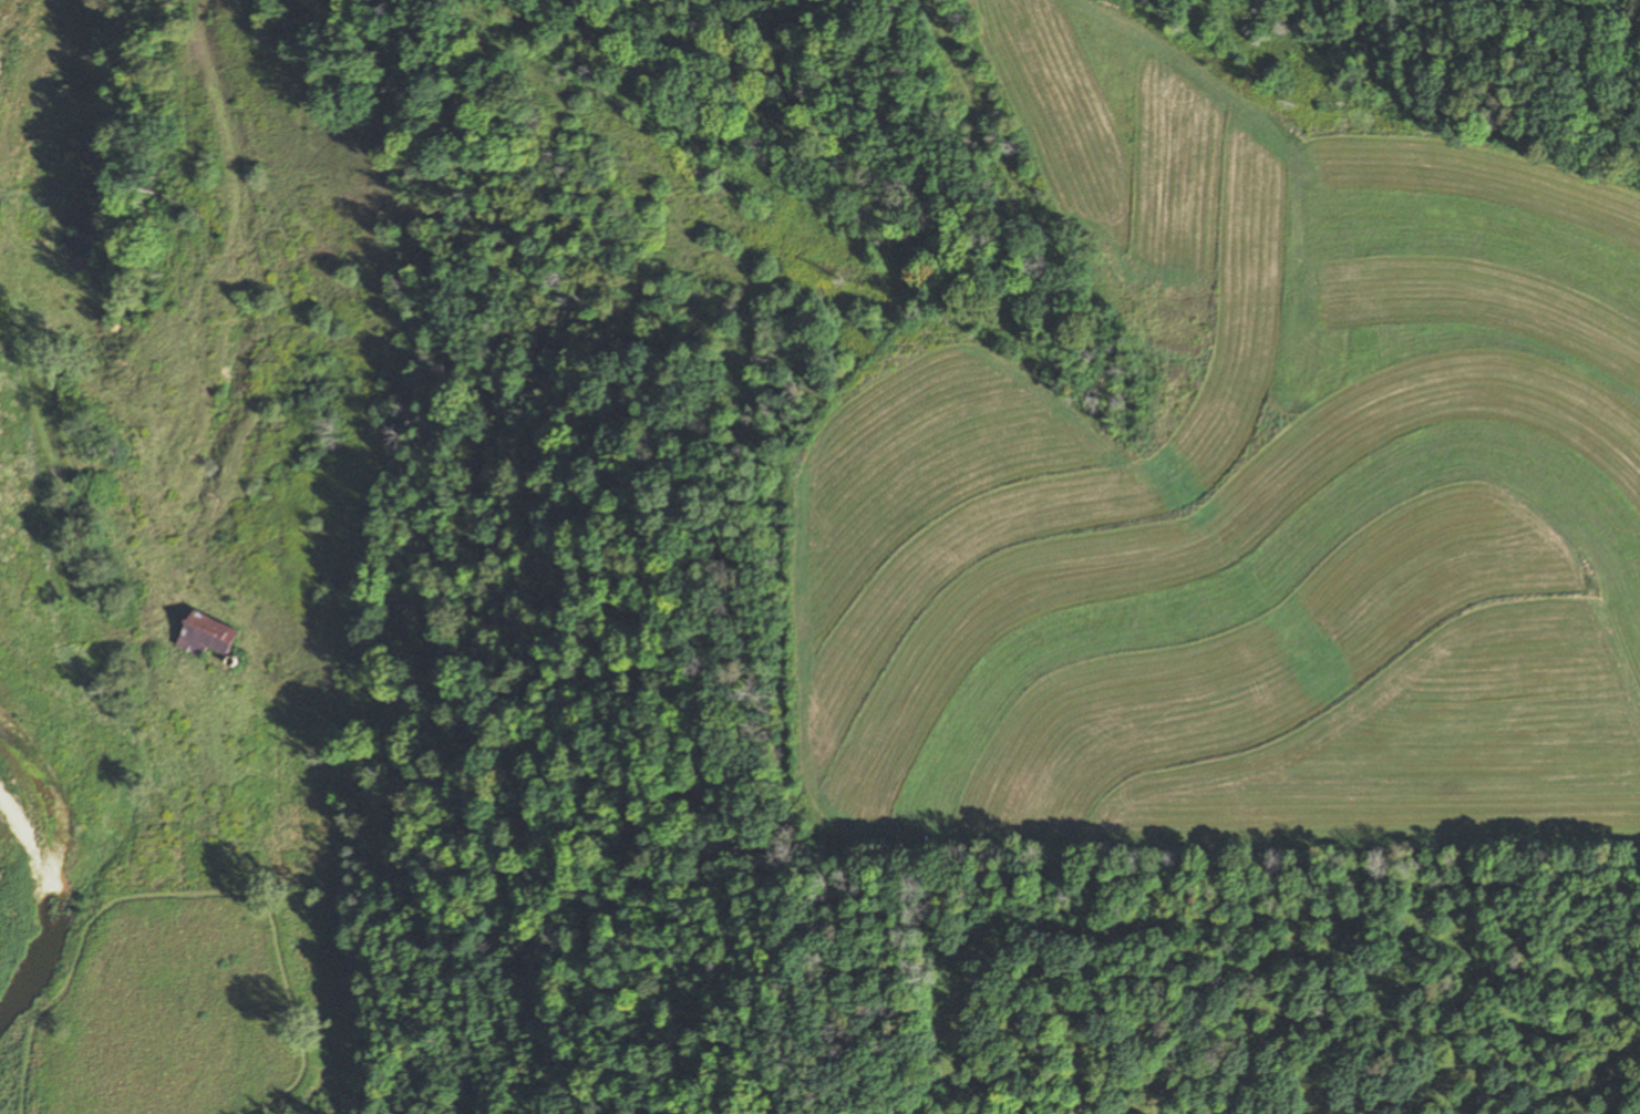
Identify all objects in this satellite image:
road: (32, 308)
building: (202, 636)

